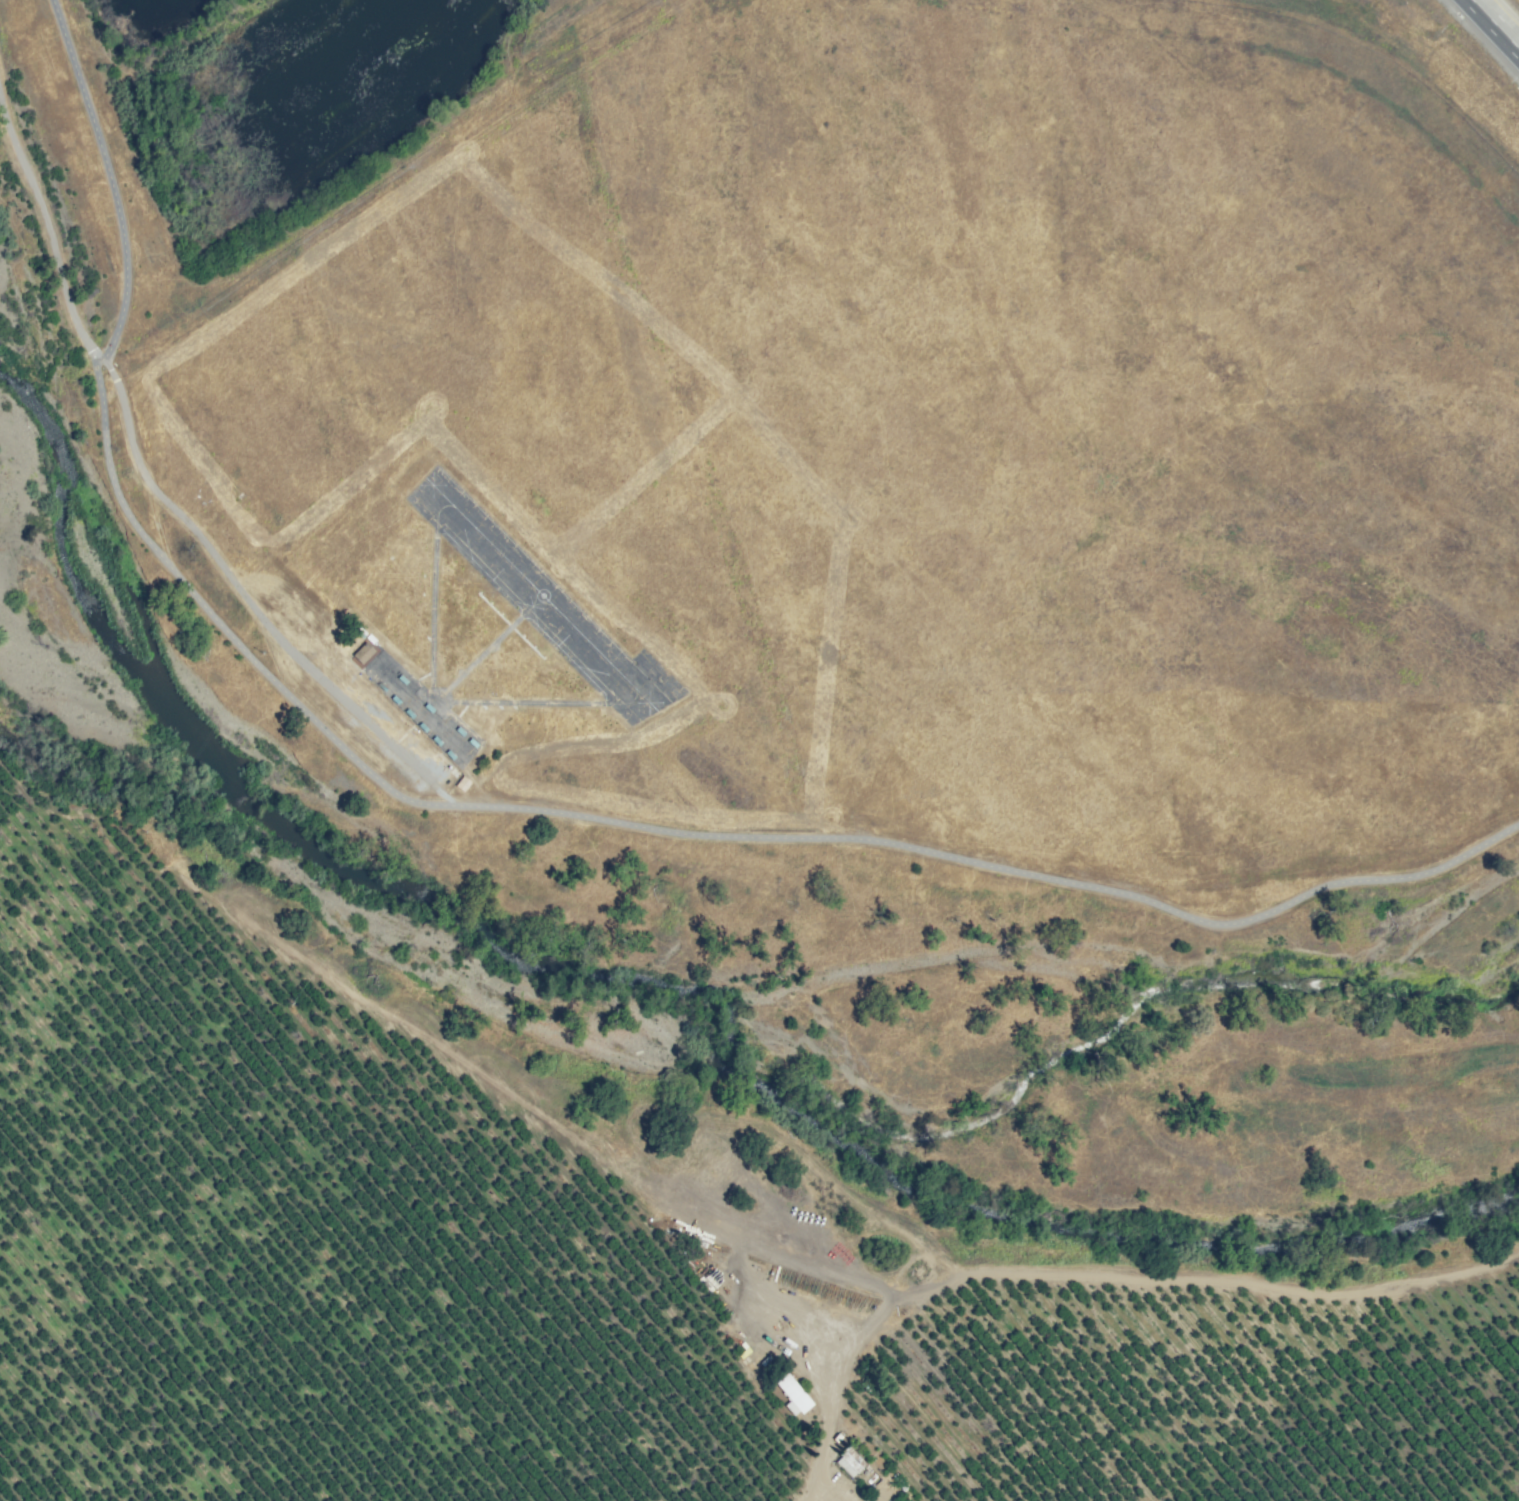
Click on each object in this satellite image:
road: (1494, 25)
road: (108, 177)
road: (47, 234)
park: (916, 422)
road: (238, 587)
building: (364, 653)
building: (402, 679)
building: (382, 686)
building: (395, 699)
airport runway: (671, 701)
building: (428, 707)
building: (409, 713)
parking lot: (380, 725)
building: (423, 727)
building: (460, 730)
building: (436, 740)
building: (450, 754)
building: (463, 783)
road: (698, 833)
building: (700, 1243)
road: (828, 1274)
building: (708, 1282)
building: (859, 1298)
road: (830, 1388)
building: (793, 1394)
building: (838, 1440)
building: (850, 1462)
building: (877, 1463)
building: (899, 1482)

